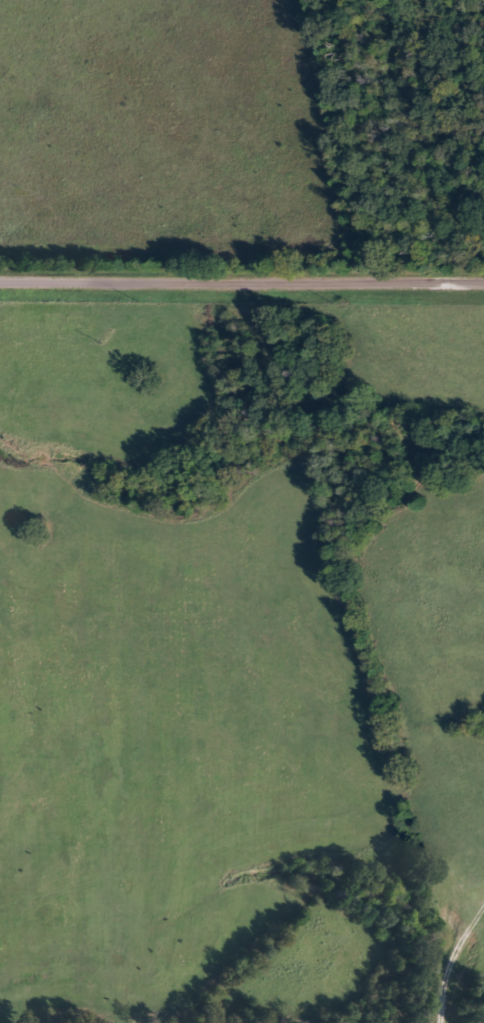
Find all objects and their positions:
road: (242, 263)

